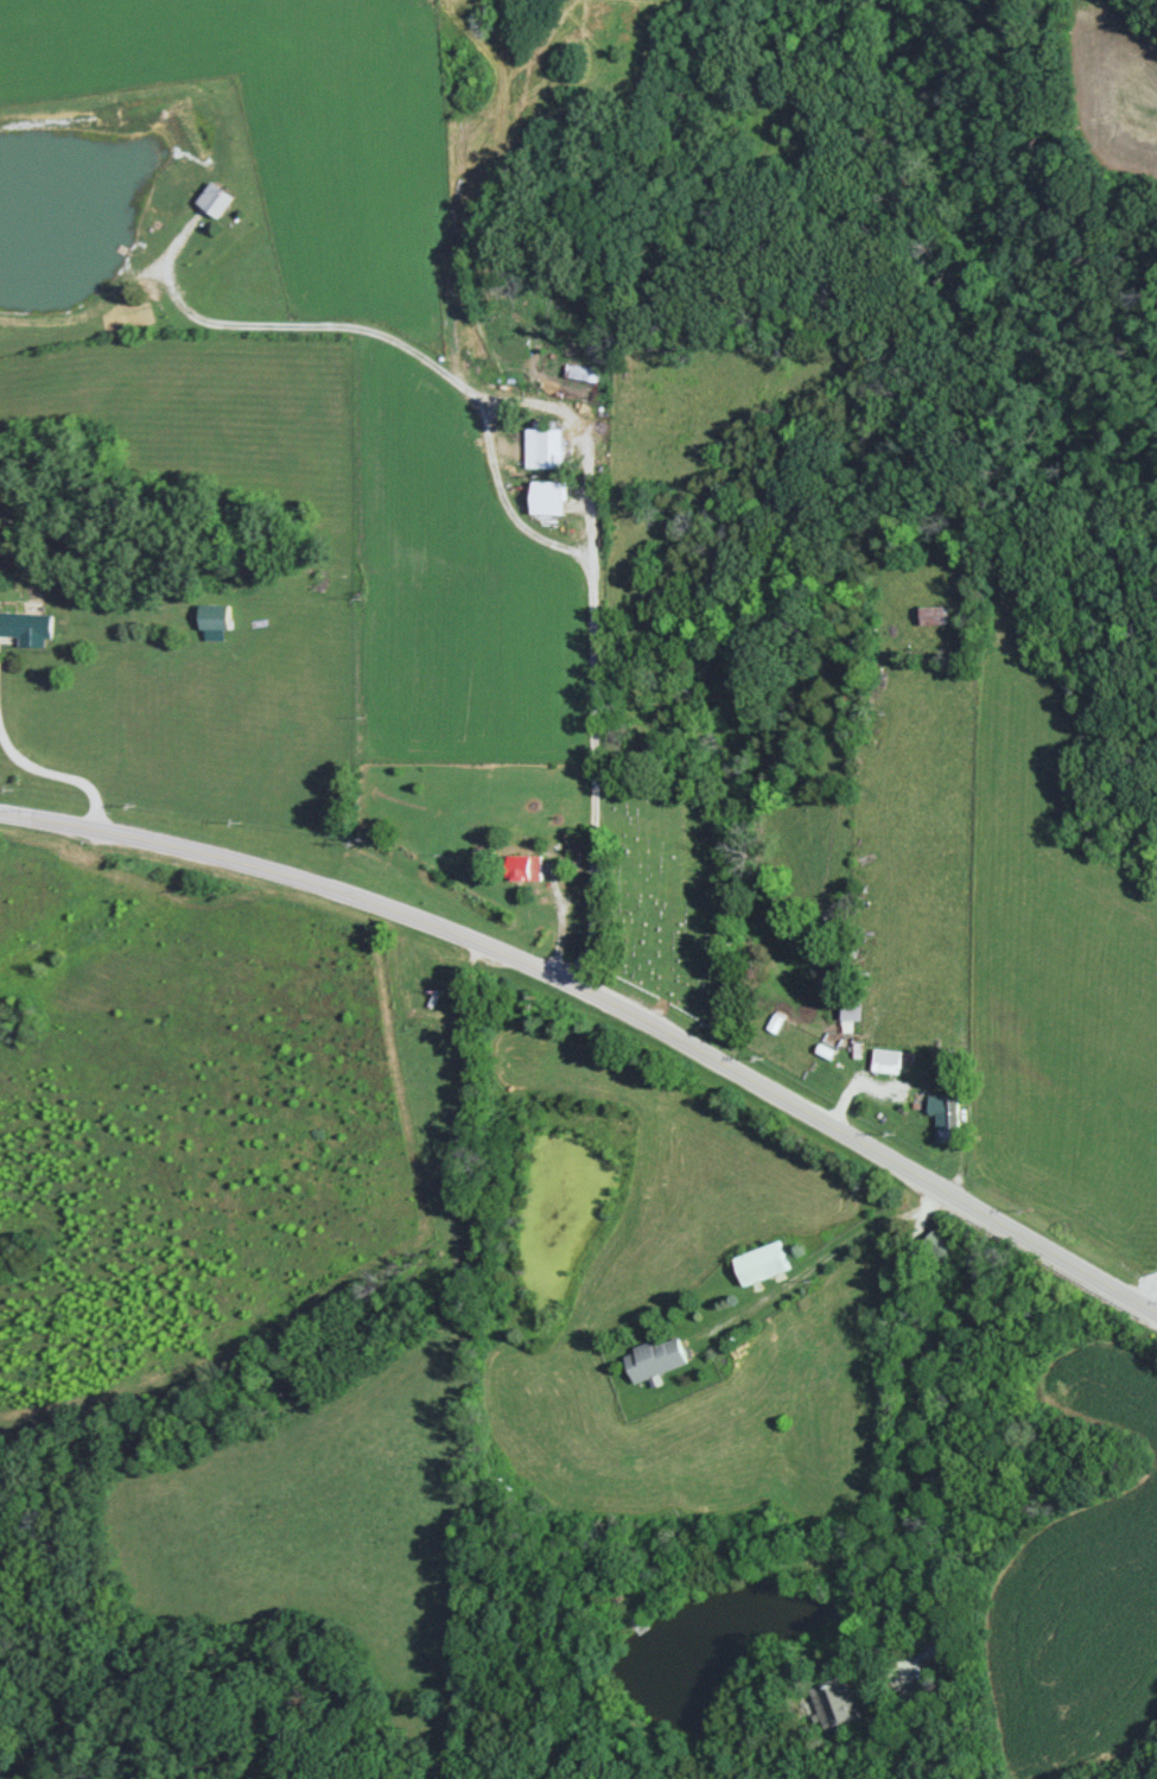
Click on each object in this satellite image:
building: (212, 199)
building: (545, 444)
building: (548, 497)
building: (933, 615)
building: (215, 617)
building: (27, 628)
building: (523, 868)
park: (717, 878)
road: (604, 998)
building: (889, 1056)
building: (945, 1116)
building: (942, 1245)
building: (759, 1263)
building: (653, 1359)
road: (1119, 1371)
road: (1013, 1384)
road: (1096, 1502)
road: (1119, 1628)
building: (840, 1705)

